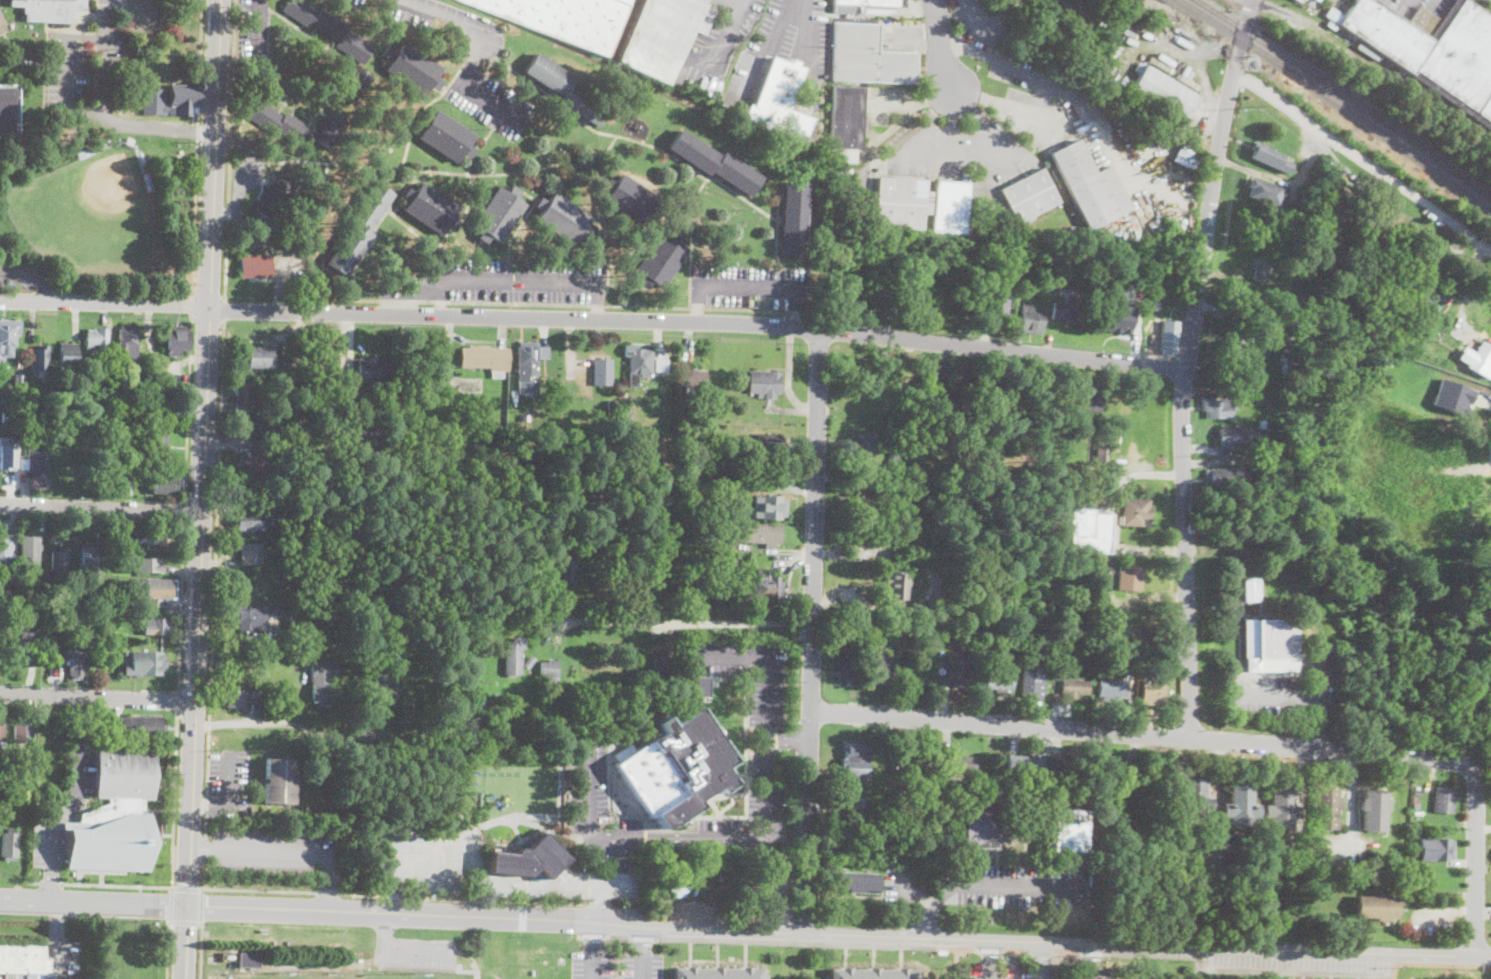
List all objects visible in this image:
building: (1299, 0)
parking lot: (1340, 3)
building: (865, 4)
building: (49, 9)
road: (449, 15)
building: (564, 19)
building: (2, 25)
road: (259, 25)
parking lot: (1424, 25)
building: (328, 27)
road: (773, 30)
road: (724, 32)
building: (662, 35)
road: (807, 36)
road: (941, 45)
building: (1433, 50)
building: (867, 56)
road: (1008, 65)
road: (475, 66)
building: (411, 68)
road: (66, 73)
road: (103, 75)
building: (356, 84)
building: (566, 89)
building: (1165, 94)
railway: (1347, 95)
building: (172, 100)
railway: (1338, 100)
building: (779, 101)
road: (493, 105)
road: (1009, 105)
building: (9, 109)
road: (979, 118)
building: (846, 119)
road: (927, 121)
building: (279, 123)
road: (951, 124)
road: (175, 130)
building: (331, 130)
building: (445, 136)
building: (129, 141)
road: (195, 143)
park: (90, 147)
road: (228, 148)
building: (86, 152)
building: (1270, 156)
building: (1187, 158)
road: (1364, 159)
building: (714, 162)
building: (147, 181)
building: (1090, 185)
road: (239, 188)
building: (1264, 190)
building: (277, 193)
building: (1030, 195)
building: (631, 200)
building: (902, 203)
building: (951, 206)
building: (1340, 206)
building: (429, 208)
building: (498, 214)
park: (92, 216)
building: (563, 218)
building: (793, 218)
building: (359, 227)
building: (970, 233)
building: (983, 245)
building: (1025, 257)
building: (660, 260)
building: (256, 267)
building: (1262, 267)
road: (35, 272)
road: (512, 280)
road: (750, 289)
building: (1318, 291)
building: (997, 297)
building: (1437, 297)
road: (441, 299)
road: (599, 301)
road: (23, 302)
road: (191, 304)
road: (558, 304)
road: (700, 305)
building: (1066, 306)
road: (223, 309)
road: (800, 309)
building: (1032, 319)
building: (1118, 319)
road: (616, 320)
building: (1263, 328)
building: (8, 337)
building: (1169, 337)
building: (96, 338)
building: (175, 339)
building: (128, 341)
building: (68, 356)
building: (38, 358)
building: (260, 358)
building: (485, 359)
building: (527, 359)
building: (1481, 360)
building: (1292, 362)
building: (661, 363)
building: (638, 364)
road: (340, 365)
road: (1186, 366)
building: (153, 367)
building: (937, 370)
building: (373, 372)
building: (601, 372)
building: (13, 374)
building: (695, 379)
building: (764, 383)
building: (1243, 388)
building: (244, 391)
building: (1453, 395)
building: (1079, 401)
building: (627, 403)
building: (612, 405)
building: (1218, 407)
road: (188, 408)
building: (388, 413)
building: (6, 417)
building: (29, 419)
building: (686, 422)
building: (1262, 423)
building: (297, 424)
building: (271, 427)
building: (116, 431)
building: (300, 434)
building: (549, 434)
building: (1233, 436)
building: (769, 442)
building: (154, 443)
building: (864, 444)
building: (294, 450)
building: (1253, 450)
building: (372, 451)
building: (1100, 451)
road: (205, 452)
building: (738, 453)
building: (6, 454)
building: (895, 458)
building: (35, 460)
building: (299, 461)
road: (219, 466)
building: (252, 469)
building: (1226, 476)
building: (292, 478)
building: (121, 482)
building: (166, 485)
building: (769, 507)
road: (102, 509)
road: (184, 511)
building: (1136, 513)
road: (1114, 518)
building: (249, 520)
building: (1489, 521)
building: (351, 522)
building: (1089, 528)
building: (755, 534)
building: (142, 539)
building: (665, 540)
building: (30, 549)
building: (5, 550)
building: (251, 553)
building: (87, 558)
road: (905, 559)
building: (59, 561)
building: (959, 562)
building: (146, 564)
building: (567, 570)
building: (661, 570)
building: (1129, 578)
building: (768, 586)
building: (320, 587)
building: (158, 588)
building: (1251, 588)
building: (897, 590)
building: (95, 597)
road: (180, 605)
building: (1098, 605)
road: (850, 606)
road: (895, 608)
building: (251, 618)
road: (692, 623)
building: (155, 625)
road: (811, 630)
building: (338, 631)
building: (104, 640)
building: (339, 641)
building: (987, 642)
building: (1268, 645)
building: (27, 646)
building: (1007, 646)
building: (514, 656)
building: (658, 656)
building: (400, 659)
building: (75, 660)
building: (530, 663)
building: (147, 664)
building: (661, 665)
building: (882, 667)
building: (550, 668)
building: (847, 668)
building: (959, 672)
building: (321, 681)
building: (999, 681)
road: (799, 682)
building: (1032, 684)
building: (702, 685)
building: (1073, 687)
building: (1111, 688)
road: (194, 689)
building: (388, 691)
building: (1152, 693)
road: (98, 696)
building: (236, 697)
road: (1303, 697)
road: (177, 700)
building: (475, 700)
building: (497, 700)
building: (504, 701)
road: (275, 722)
road: (208, 724)
road: (1322, 724)
road: (81, 725)
building: (138, 727)
building: (22, 732)
building: (2, 733)
building: (614, 737)
road: (789, 740)
road: (797, 742)
road: (1237, 742)
building: (855, 758)
building: (913, 763)
building: (963, 764)
building: (1034, 766)
building: (662, 776)
building: (1119, 777)
building: (278, 780)
building: (120, 782)
building: (1417, 792)
road: (228, 796)
road: (1352, 796)
building: (1194, 798)
road: (174, 799)
building: (1444, 799)
road: (795, 800)
building: (1416, 801)
building: (1240, 805)
building: (1281, 806)
building: (1325, 807)
building: (858, 808)
building: (1374, 809)
parking lot: (61, 811)
road: (66, 813)
road: (1483, 826)
building: (979, 827)
building: (1068, 830)
road: (761, 837)
building: (1412, 838)
building: (10, 844)
building: (110, 844)
road: (205, 846)
road: (204, 847)
road: (278, 848)
parking lot: (274, 850)
building: (1437, 850)
road: (473, 851)
road: (438, 853)
building: (528, 858)
road: (899, 881)
road: (36, 883)
road: (51, 883)
road: (51, 883)
building: (677, 883)
building: (857, 883)
road: (116, 885)
road: (328, 885)
road: (513, 885)
road: (1019, 887)
road: (186, 888)
road: (243, 890)
road: (918, 891)
building: (1410, 891)
road: (327, 893)
road: (394, 893)
road: (345, 894)
road: (94, 901)
road: (171, 904)
road: (202, 904)
road: (599, 905)
building: (1376, 906)
road: (932, 909)
road: (523, 918)
road: (185, 921)
road: (386, 924)
road: (839, 933)
road: (57, 935)
road: (592, 936)
road: (643, 940)
road: (186, 941)
road: (414, 947)
road: (168, 949)
road: (201, 949)
parking lot: (414, 952)
building: (22, 958)
building: (247, 958)
road: (434, 958)
road: (990, 959)
road: (1041, 960)
road: (1092, 961)
road: (1437, 964)
parking lot: (591, 965)
road: (592, 965)
parking lot: (642, 965)
road: (642, 966)
road: (459, 970)
road: (1295, 973)
road: (53, 974)
building: (717, 974)
building: (872, 975)
road: (1196, 975)
building: (13, 976)
building: (34, 976)
building: (0, 977)
building: (67, 978)
park: (237, 978)

